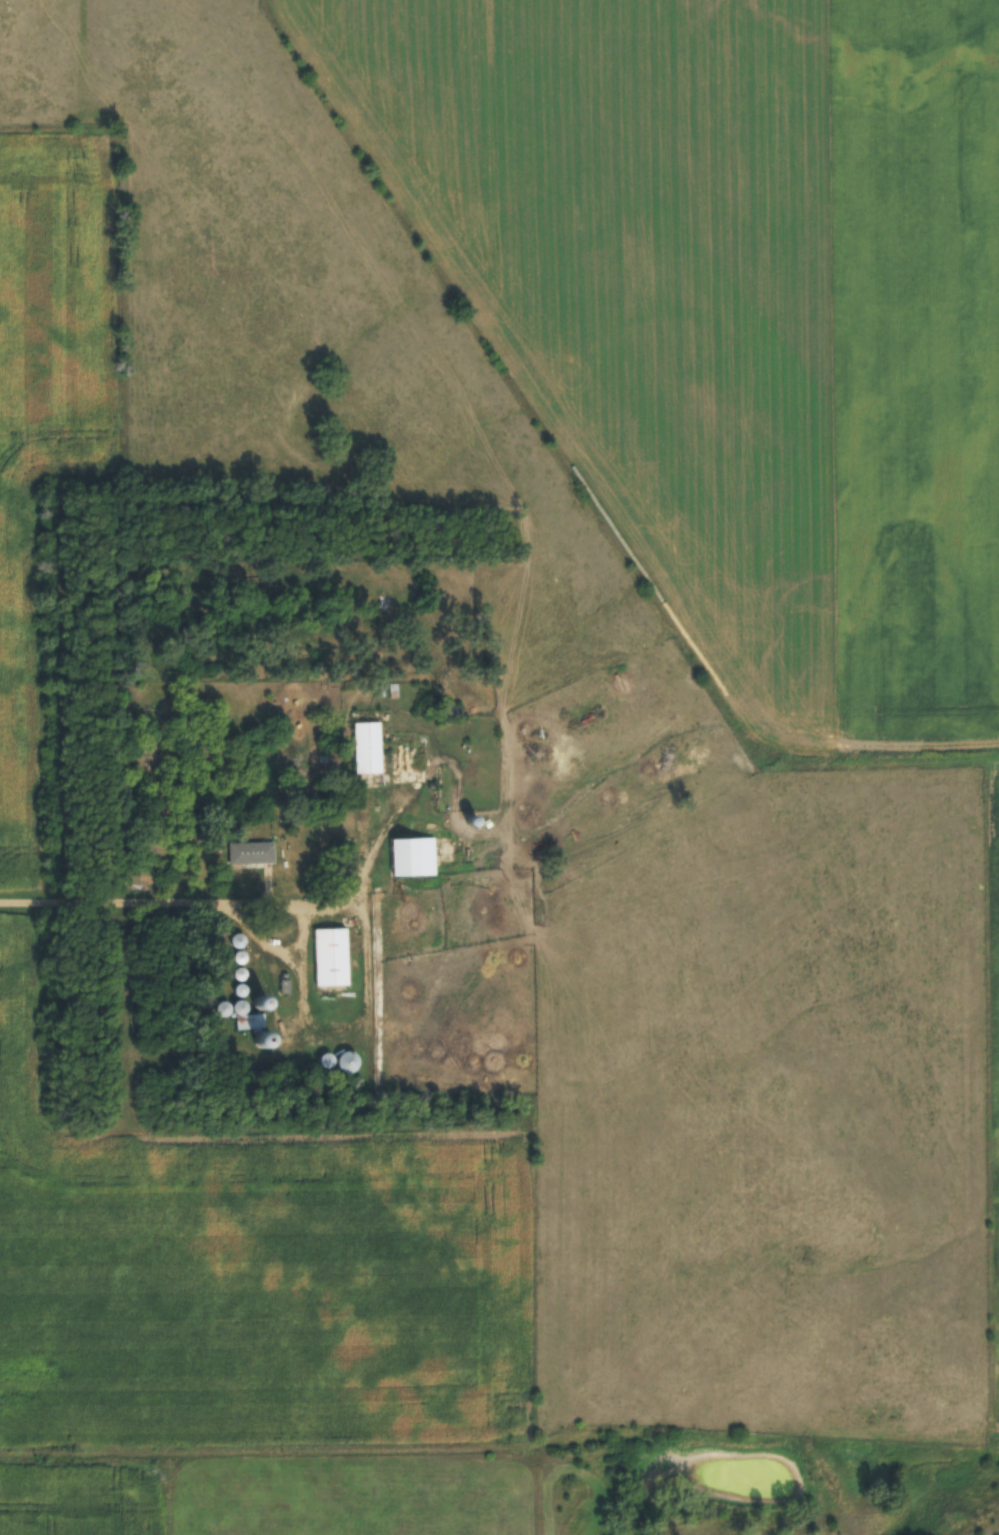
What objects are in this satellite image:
building: (370, 747)
building: (252, 853)
building: (416, 856)
road: (150, 902)
building: (334, 956)

